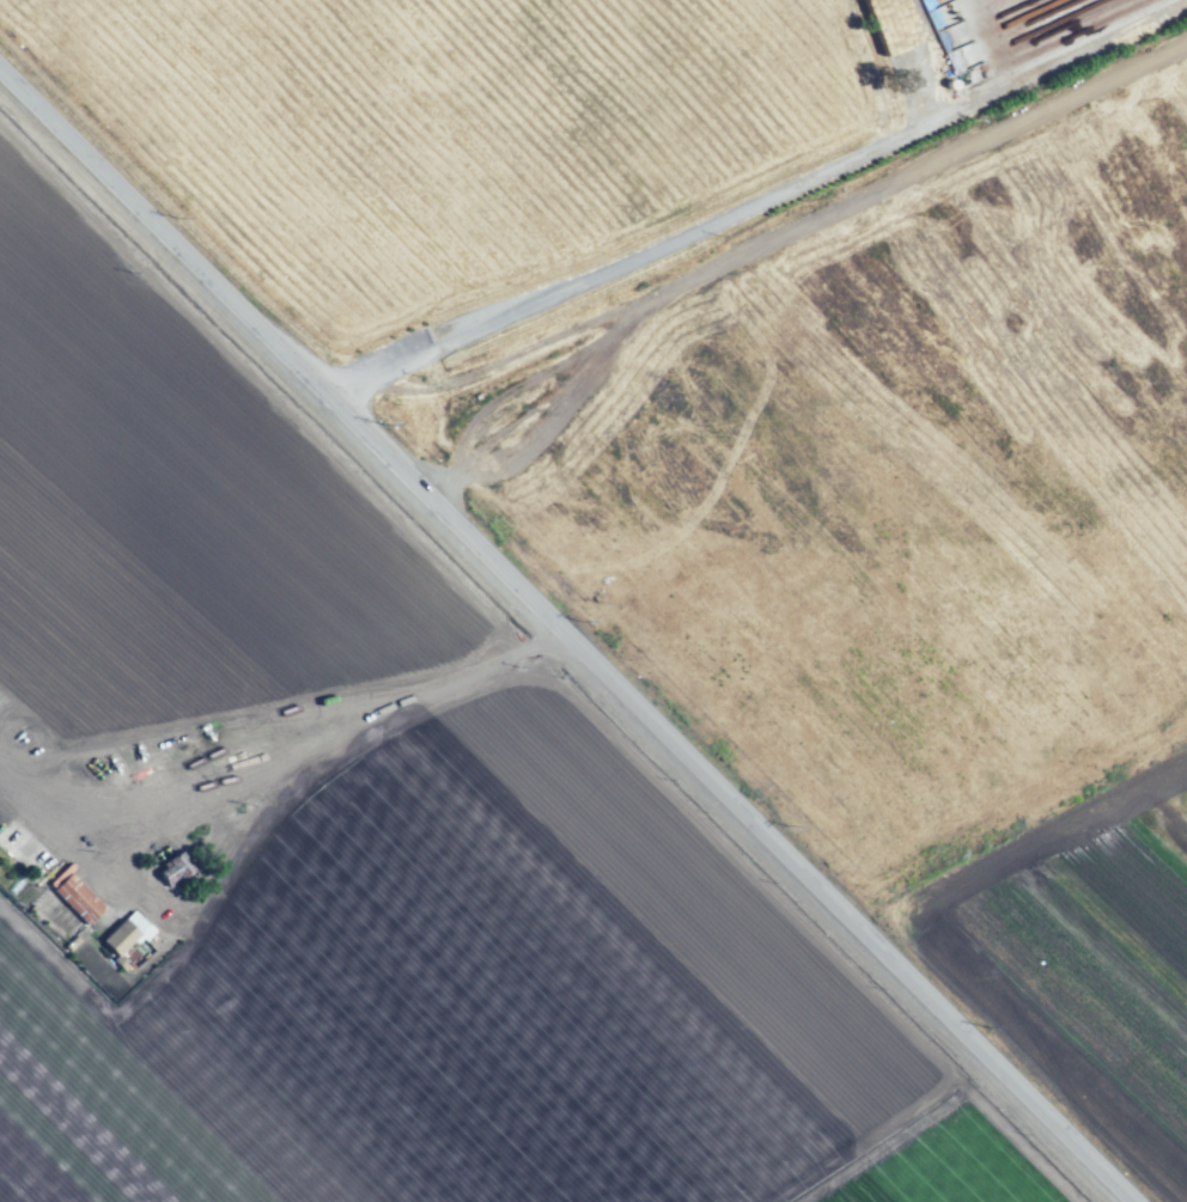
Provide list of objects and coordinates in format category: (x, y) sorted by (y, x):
building: (905, 51)
building: (956, 59)
road: (629, 274)
crop: (749, 340)
road: (561, 648)
road: (291, 721)
crop: (358, 840)
building: (175, 870)
building: (78, 898)
building: (124, 934)
crop: (1079, 946)

